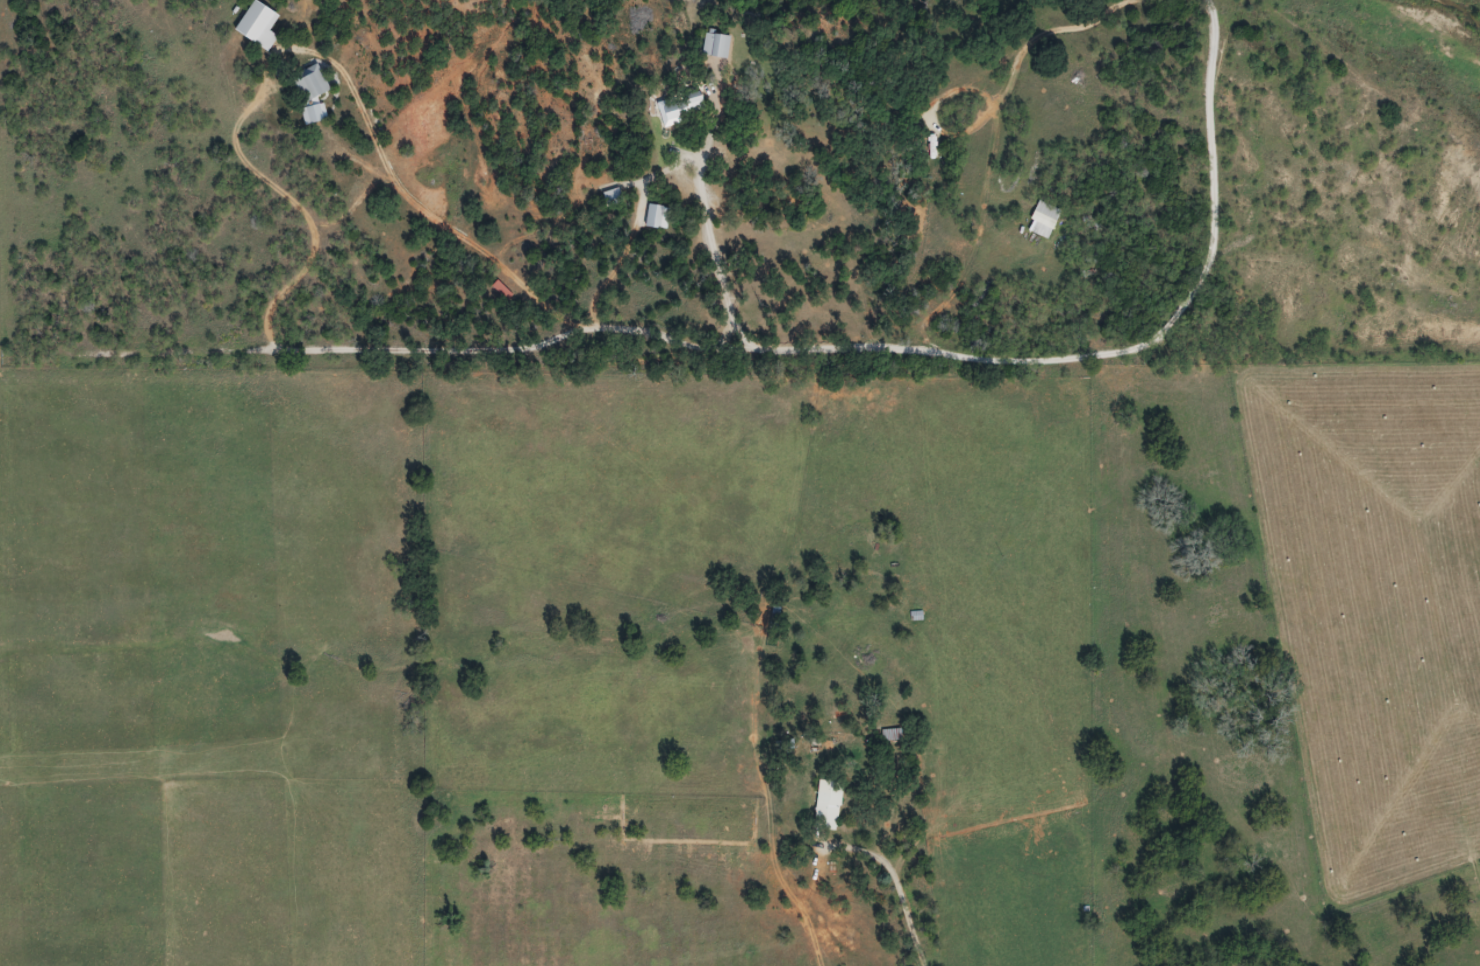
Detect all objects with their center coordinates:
building: (717, 44)
building: (311, 83)
building: (696, 101)
building: (502, 290)
building: (917, 616)
building: (891, 735)
building: (829, 804)

